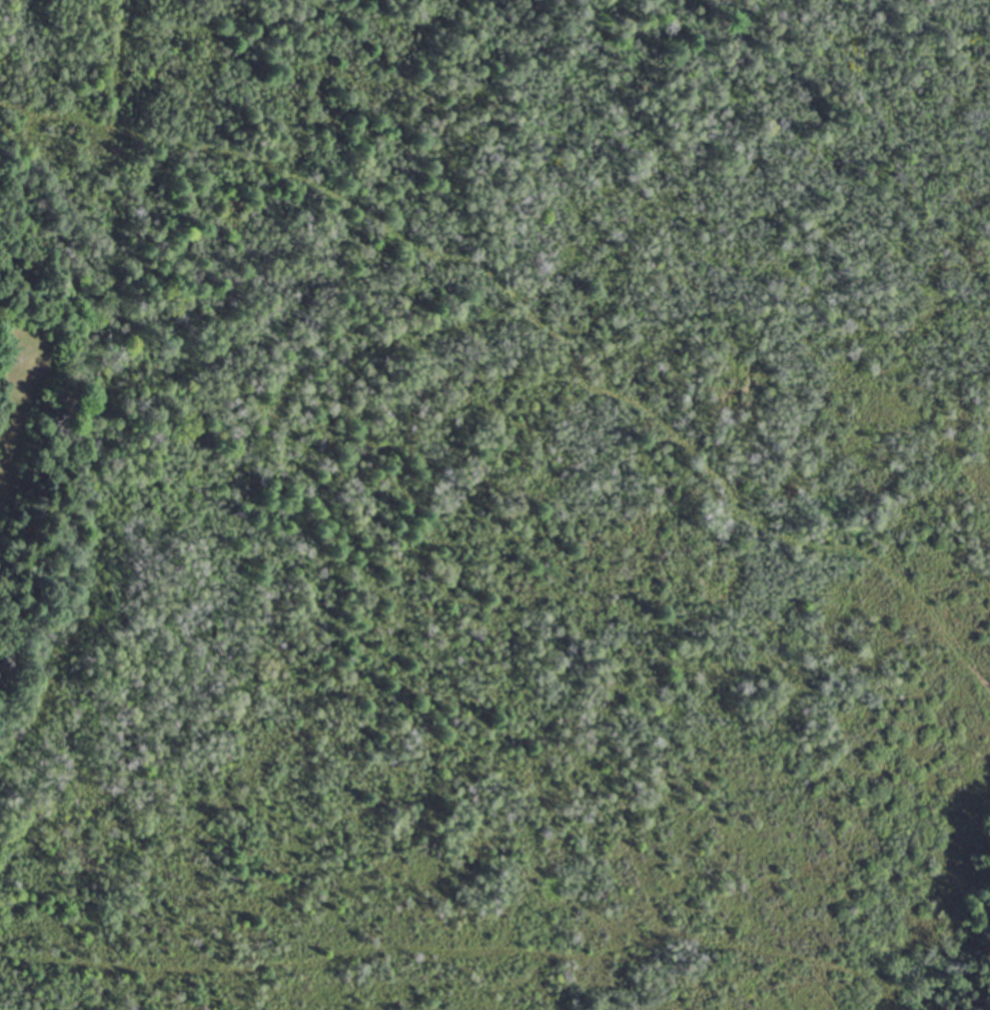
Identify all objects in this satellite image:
park: (20, 424)

